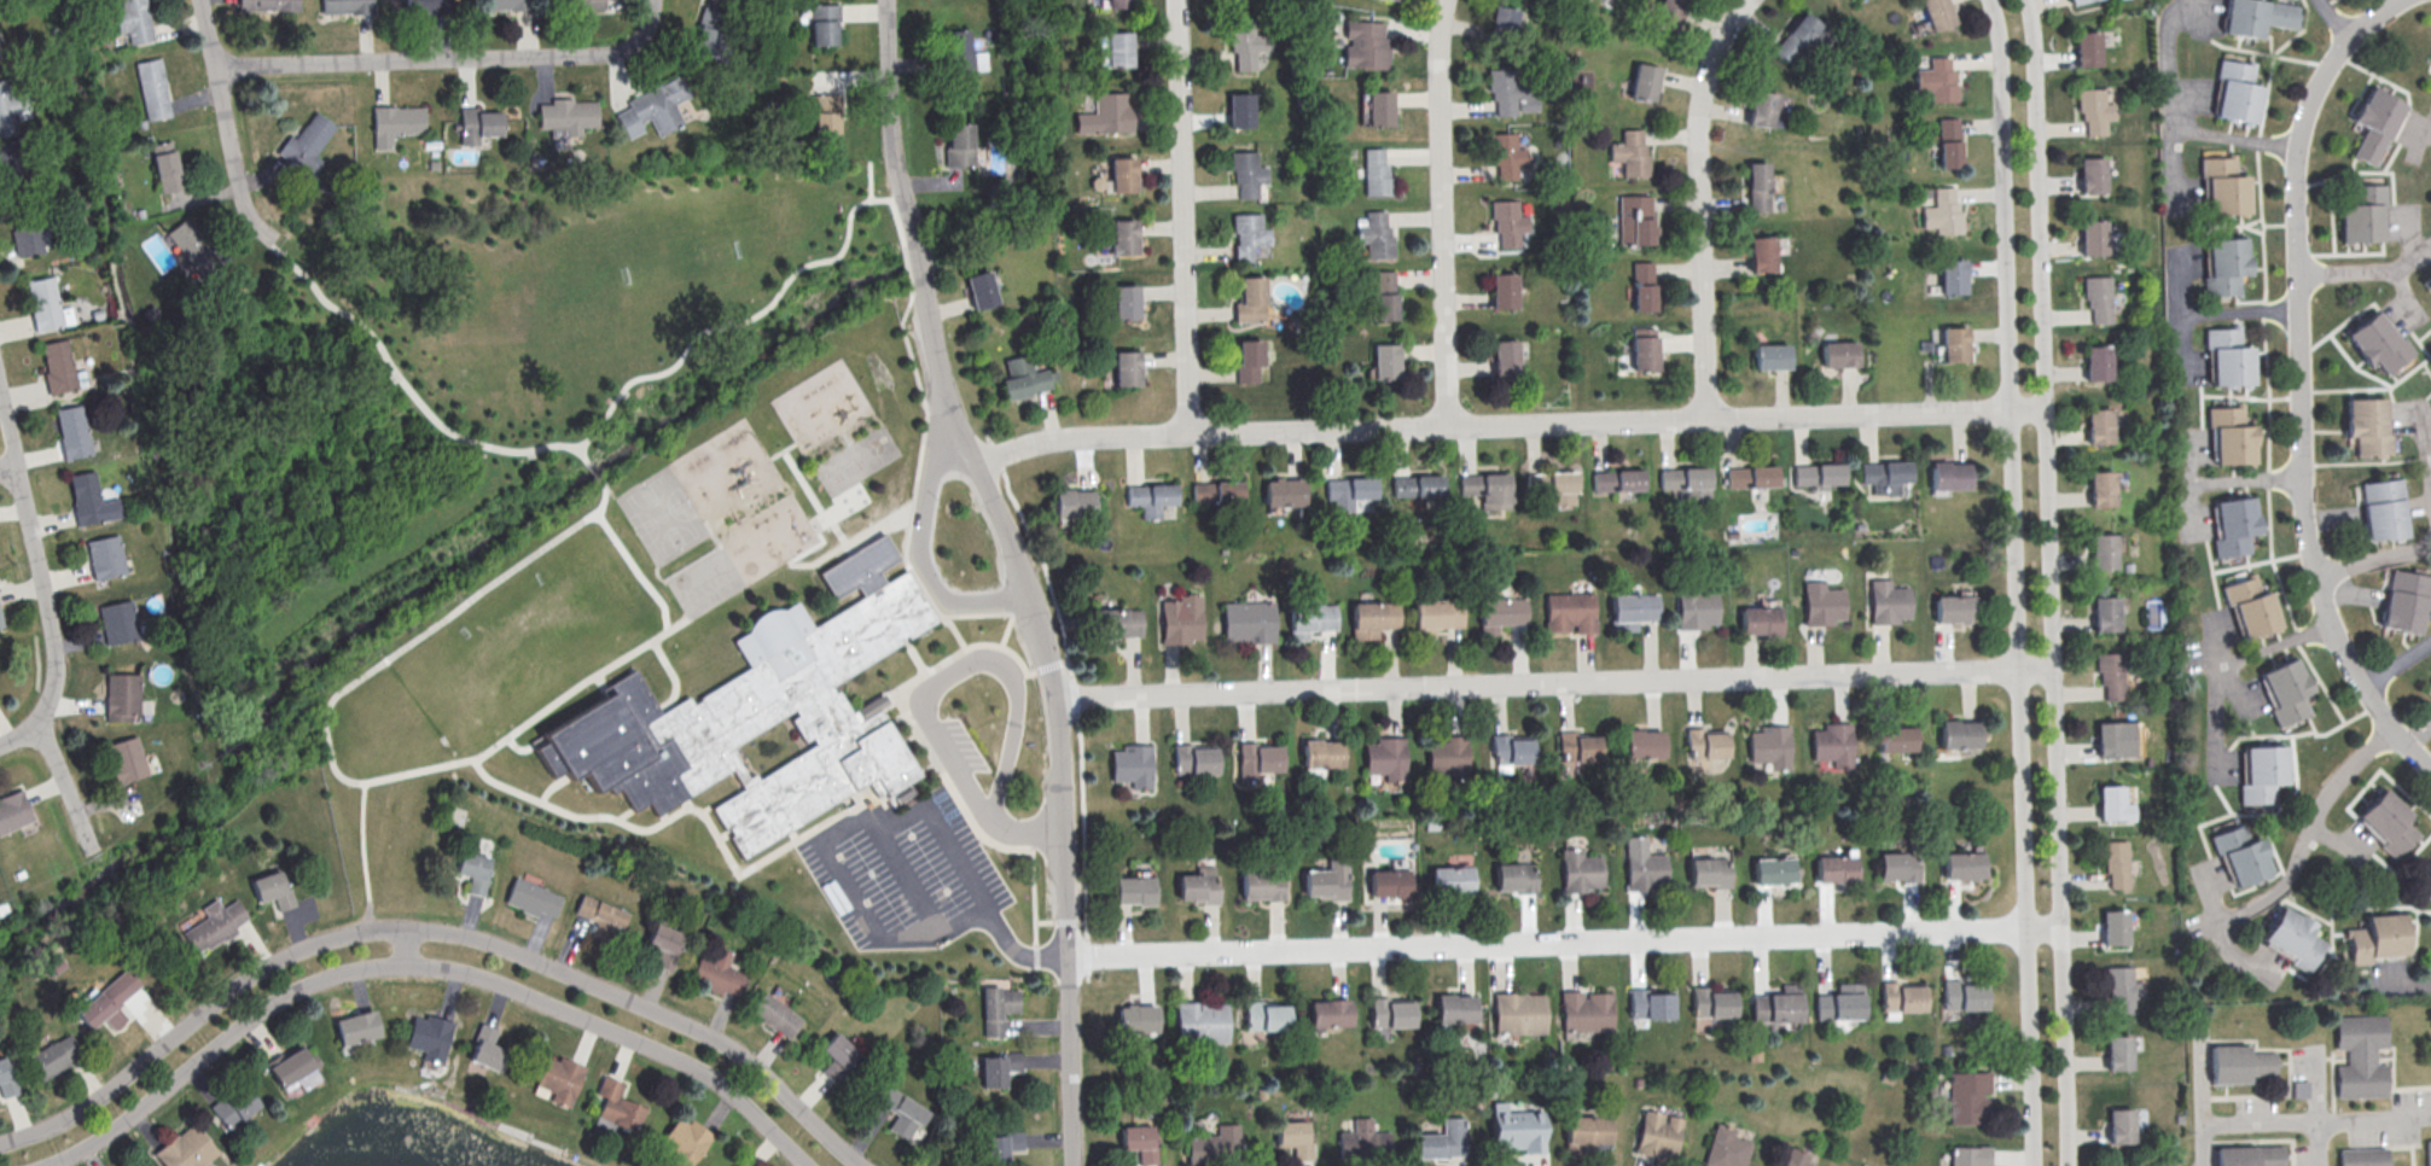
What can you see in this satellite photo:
building: (2074, 1)
building: (1107, 2)
building: (581, 4)
building: (506, 5)
building: (268, 6)
building: (344, 7)
building: (424, 7)
building: (1935, 13)
building: (2257, 16)
building: (1500, 18)
road: (2333, 19)
building: (135, 22)
building: (824, 22)
building: (708, 30)
building: (1795, 35)
building: (1243, 42)
building: (1362, 47)
building: (958, 48)
building: (1116, 48)
building: (2083, 48)
road: (447, 58)
building: (1936, 78)
building: (1642, 81)
building: (152, 89)
building: (1502, 92)
building: (2237, 92)
building: (1760, 107)
building: (10, 109)
building: (653, 110)
building: (1238, 110)
building: (2090, 110)
building: (826, 112)
building: (1105, 113)
building: (565, 118)
road: (891, 123)
building: (2374, 123)
road: (225, 124)
building: (394, 126)
building: (476, 128)
building: (1946, 128)
road: (2417, 128)
road: (2193, 130)
building: (307, 144)
building: (959, 144)
building: (1630, 151)
building: (1948, 153)
building: (1502, 155)
building: (12, 168)
building: (165, 168)
building: (1245, 173)
building: (1373, 173)
building: (2089, 173)
building: (1119, 174)
road: (871, 180)
building: (1757, 186)
building: (2226, 193)
road: (1697, 203)
building: (1941, 210)
road: (1437, 211)
building: (2362, 214)
road: (1179, 216)
building: (1505, 222)
building: (1638, 228)
building: (23, 232)
building: (1246, 234)
building: (2089, 235)
building: (1119, 237)
building: (1376, 237)
park: (702, 244)
building: (193, 249)
building: (158, 251)
building: (1760, 252)
road: (918, 262)
building: (2224, 264)
road: (907, 266)
road: (2349, 272)
building: (1950, 275)
building: (979, 288)
building: (1501, 291)
building: (1642, 295)
building: (2095, 298)
building: (1249, 299)
building: (1123, 302)
building: (43, 303)
building: (1384, 305)
road: (758, 313)
road: (2204, 314)
building: (2378, 340)
building: (1953, 343)
building: (1642, 349)
building: (1834, 354)
building: (1769, 356)
building: (2228, 356)
building: (1504, 357)
building: (1248, 360)
building: (1384, 361)
building: (2094, 363)
building: (57, 367)
building: (1124, 368)
building: (1022, 375)
road: (2296, 381)
road: (409, 389)
park: (454, 389)
road: (1507, 422)
building: (2095, 426)
building: (2367, 426)
building: (71, 431)
building: (2231, 435)
road: (845, 438)
road: (2425, 439)
road: (781, 448)
building: (1883, 472)
road: (597, 473)
building: (1816, 473)
road: (10, 474)
building: (1749, 476)
building: (1947, 476)
building: (1682, 478)
building: (1616, 480)
building: (1548, 482)
road: (2221, 482)
building: (1482, 484)
building: (1415, 486)
building: (1348, 489)
building: (2098, 489)
building: (1216, 491)
building: (1283, 492)
building: (85, 497)
road: (810, 497)
building: (1150, 497)
building: (1072, 501)
road: (912, 507)
building: (2381, 508)
park: (663, 518)
building: (2233, 524)
building: (2099, 552)
building: (104, 558)
road: (2375, 559)
road: (797, 562)
road: (636, 570)
road: (39, 576)
road: (2014, 582)
road: (2049, 582)
building: (2404, 601)
building: (1884, 602)
building: (1819, 604)
building: (2251, 606)
building: (1692, 607)
building: (1950, 608)
building: (1568, 611)
building: (1629, 611)
building: (1497, 613)
building: (2103, 614)
building: (1432, 616)
building: (1181, 618)
building: (1308, 618)
building: (1372, 618)
building: (1757, 619)
building: (1248, 620)
building: (118, 622)
building: (0, 624)
building: (1115, 624)
road: (955, 634)
road: (976, 646)
road: (914, 655)
road: (2231, 661)
road: (2398, 661)
building: (2109, 675)
road: (671, 676)
building: (2430, 680)
road: (600, 681)
road: (1553, 682)
road: (937, 684)
building: (2287, 689)
building: (122, 695)
road: (1055, 711)
building: (762, 712)
building: (1955, 734)
building: (1892, 738)
building: (2112, 739)
parking lot: (972, 742)
building: (1640, 744)
building: (1702, 744)
building: (1830, 745)
building: (1575, 747)
building: (1767, 747)
road: (525, 748)
building: (1507, 750)
building: (1320, 753)
road: (1078, 754)
road: (331, 756)
building: (1446, 757)
building: (126, 758)
building: (1383, 758)
building: (1193, 759)
building: (1256, 759)
building: (1130, 764)
building: (2263, 773)
road: (64, 782)
road: (553, 786)
road: (686, 804)
building: (2110, 804)
road: (694, 809)
building: (13, 811)
building: (2389, 812)
road: (624, 814)
road: (664, 816)
road: (876, 820)
road: (725, 835)
road: (792, 835)
road: (818, 836)
road: (984, 838)
building: (2241, 855)
road: (365, 856)
road: (2296, 859)
building: (2113, 863)
building: (1960, 865)
building: (1895, 867)
building: (472, 869)
building: (1641, 869)
building: (1832, 869)
building: (1577, 871)
building: (1770, 871)
parking lot: (908, 873)
building: (1706, 874)
road: (912, 878)
building: (1513, 879)
building: (1326, 880)
building: (2425, 880)
building: (1449, 881)
building: (1386, 882)
building: (1263, 884)
building: (1198, 885)
building: (271, 888)
building: (1133, 890)
building: (533, 897)
building: (600, 915)
building: (213, 923)
road: (1084, 927)
building: (2111, 927)
road: (435, 928)
building: (2292, 937)
building: (2377, 938)
road: (1563, 939)
building: (664, 943)
road: (407, 945)
road: (421, 964)
building: (714, 969)
building: (117, 987)
building: (2119, 989)
building: (1959, 995)
building: (1898, 997)
building: (1710, 1003)
building: (1838, 1003)
building: (1647, 1005)
building: (1775, 1005)
building: (998, 1007)
building: (1452, 1008)
building: (97, 1011)
building: (1389, 1011)
building: (1583, 1011)
building: (1327, 1013)
building: (775, 1014)
building: (1516, 1014)
building: (1264, 1015)
building: (1135, 1018)
building: (1202, 1019)
building: (357, 1027)
building: (429, 1036)
building: (487, 1048)
building: (2115, 1053)
building: (837, 1054)
building: (51, 1055)
building: (2360, 1056)
building: (2237, 1063)
building: (290, 1066)
building: (999, 1068)
building: (560, 1078)
building: (6, 1079)
building: (1965, 1097)
building: (234, 1104)
building: (617, 1106)
building: (903, 1112)
road: (2350, 1117)
road: (2212, 1121)
building: (2117, 1126)
building: (1516, 1129)
building: (1582, 1132)
building: (1654, 1135)
building: (1293, 1136)
building: (1360, 1137)
building: (685, 1139)
building: (1441, 1139)
building: (1140, 1142)
road: (2202, 1144)
building: (1216, 1145)
building: (1002, 1147)
building: (186, 1148)
building: (1725, 1148)
building: (2427, 1153)
building: (2362, 1154)
building: (2249, 1155)
building: (1965, 1156)
building: (1792, 1158)
building: (741, 1164)
building: (138, 1165)

